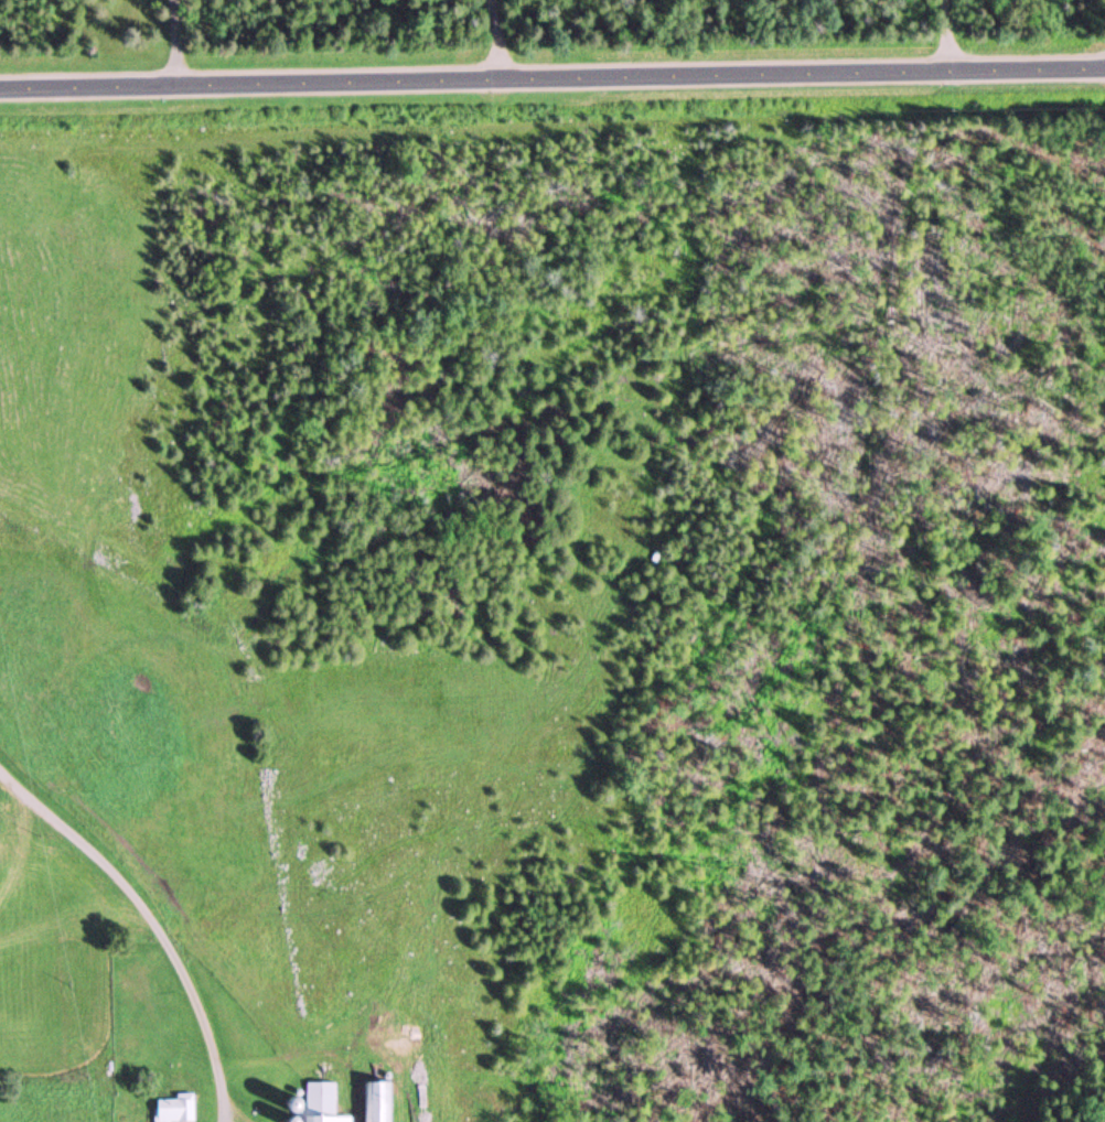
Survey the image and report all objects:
road: (551, 79)
road: (150, 921)
building: (378, 1101)
building: (324, 1103)
building: (179, 1109)

